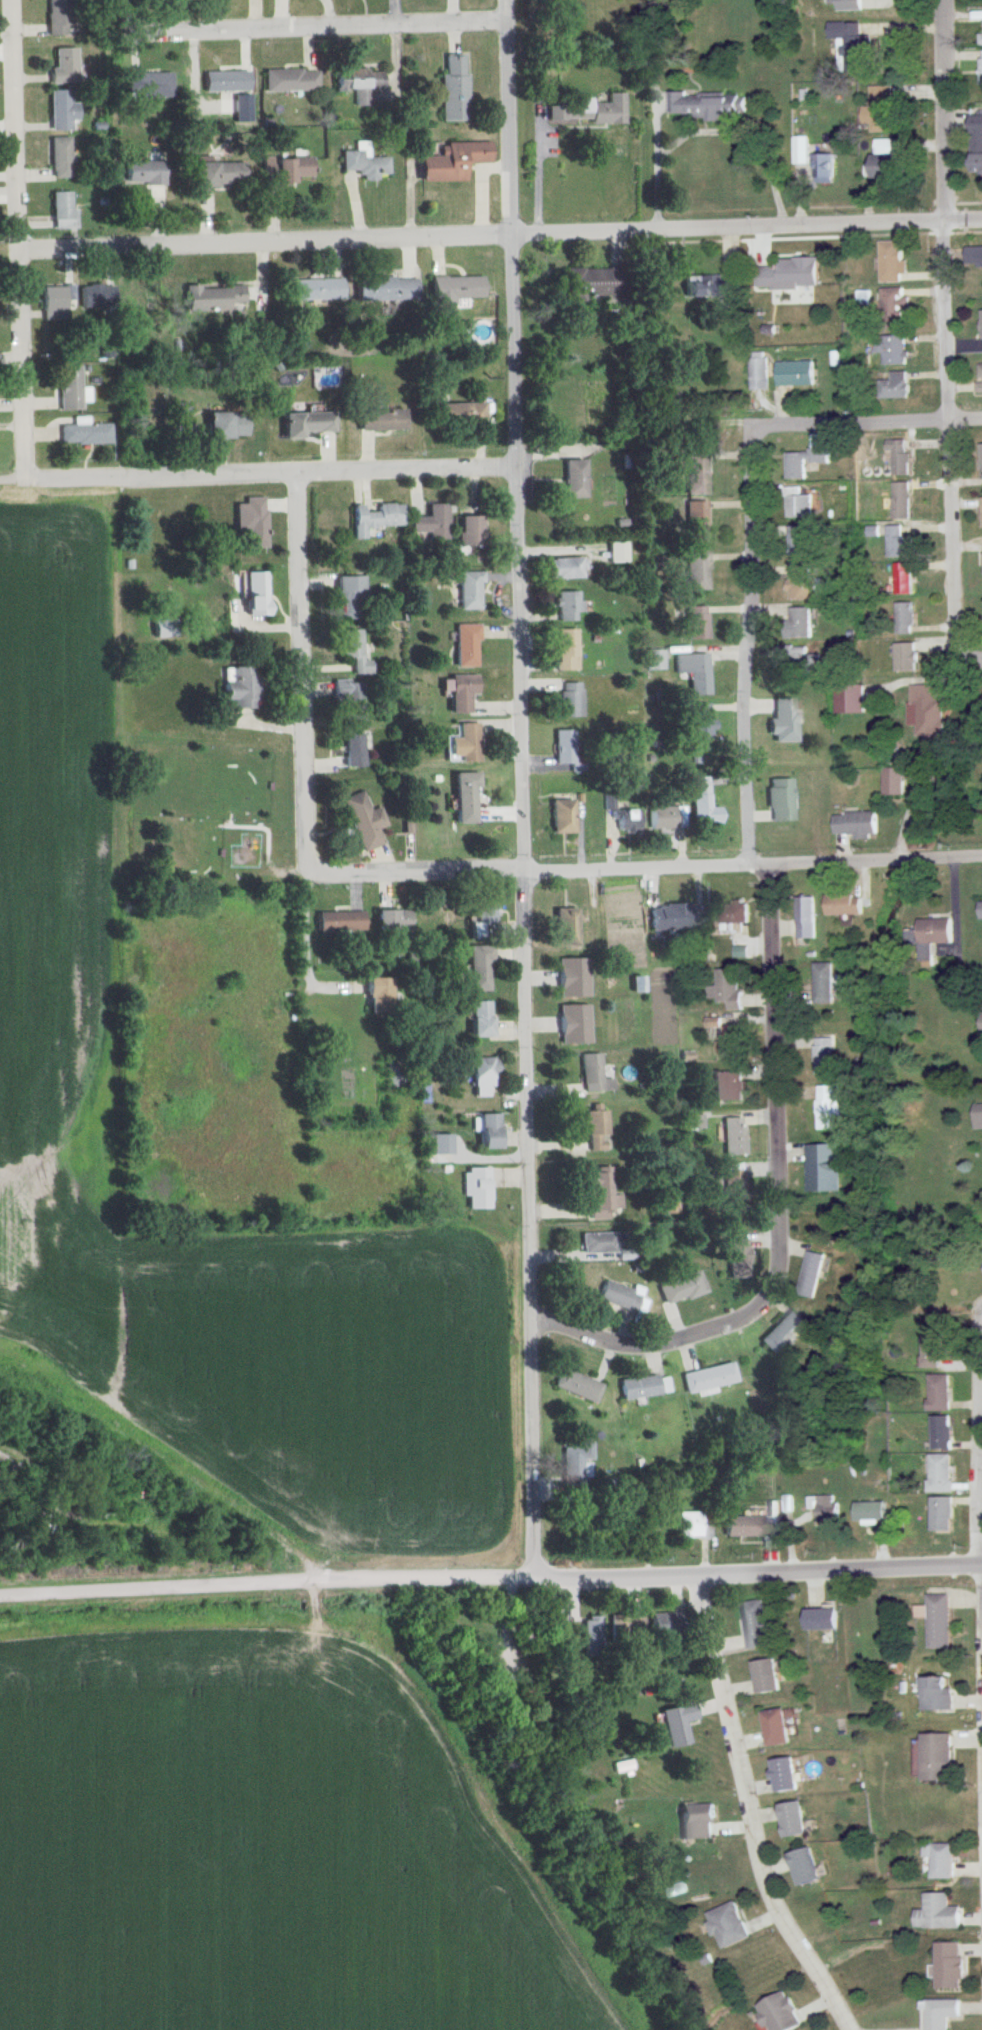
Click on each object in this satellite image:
building: (845, 5)
building: (57, 17)
road: (308, 28)
building: (980, 40)
building: (849, 42)
building: (65, 66)
building: (980, 69)
building: (225, 81)
building: (291, 81)
building: (360, 83)
building: (151, 85)
building: (452, 88)
building: (707, 107)
building: (62, 110)
building: (585, 110)
building: (880, 110)
road: (512, 117)
building: (975, 144)
building: (800, 151)
building: (60, 157)
building: (880, 160)
building: (450, 161)
building: (362, 165)
road: (656, 165)
building: (822, 166)
building: (290, 170)
building: (144, 173)
building: (216, 174)
building: (64, 211)
road: (963, 218)
road: (729, 227)
road: (19, 239)
road: (267, 243)
building: (974, 257)
building: (890, 261)
building: (789, 274)
building: (586, 283)
building: (705, 287)
building: (387, 288)
building: (454, 288)
building: (314, 289)
building: (96, 297)
building: (210, 298)
building: (53, 303)
building: (892, 308)
building: (981, 325)
road: (944, 327)
building: (891, 349)
building: (759, 371)
building: (794, 374)
building: (979, 378)
building: (892, 385)
building: (71, 389)
building: (459, 415)
building: (378, 420)
building: (302, 424)
road: (867, 424)
building: (223, 426)
building: (85, 433)
building: (898, 457)
building: (980, 457)
building: (802, 462)
road: (259, 472)
building: (694, 472)
building: (572, 480)
building: (900, 500)
building: (796, 504)
building: (981, 513)
building: (374, 518)
building: (695, 522)
building: (251, 523)
building: (430, 523)
building: (469, 532)
building: (797, 541)
building: (896, 543)
building: (614, 552)
building: (561, 569)
building: (696, 570)
building: (901, 579)
building: (801, 582)
building: (467, 591)
building: (252, 594)
building: (349, 598)
building: (566, 605)
building: (903, 618)
building: (695, 622)
building: (798, 622)
building: (464, 645)
building: (564, 650)
building: (352, 651)
road: (971, 654)
building: (904, 657)
building: (653, 660)
building: (795, 660)
road: (301, 669)
building: (694, 672)
building: (237, 687)
building: (458, 693)
building: (569, 700)
building: (849, 700)
building: (347, 702)
building: (923, 710)
building: (781, 720)
building: (698, 722)
building: (466, 743)
building: (563, 747)
building: (351, 751)
park: (967, 754)
building: (893, 782)
building: (462, 798)
building: (779, 801)
building: (702, 808)
building: (560, 817)
building: (666, 817)
building: (629, 820)
building: (363, 821)
building: (854, 824)
road: (753, 856)
road: (645, 865)
road: (524, 903)
building: (841, 905)
building: (480, 909)
building: (979, 909)
building: (733, 912)
building: (668, 917)
building: (390, 920)
building: (803, 920)
building: (338, 921)
building: (561, 927)
building: (931, 936)
road: (304, 947)
building: (477, 966)
building: (570, 977)
building: (822, 984)
building: (726, 988)
building: (376, 992)
building: (475, 1018)
building: (980, 1019)
building: (571, 1024)
building: (728, 1041)
building: (824, 1056)
building: (591, 1075)
crop: (63, 1081)
building: (727, 1086)
building: (833, 1108)
building: (977, 1115)
building: (593, 1129)
building: (485, 1131)
building: (733, 1136)
building: (830, 1162)
building: (734, 1181)
building: (475, 1188)
building: (598, 1194)
building: (599, 1244)
building: (737, 1252)
building: (811, 1275)
building: (682, 1288)
building: (618, 1296)
building: (781, 1331)
road: (654, 1344)
building: (707, 1378)
building: (577, 1386)
building: (638, 1387)
building: (937, 1393)
building: (940, 1433)
building: (6, 1463)
building: (571, 1469)
building: (939, 1473)
building: (824, 1509)
building: (869, 1512)
building: (941, 1514)
building: (750, 1524)
building: (688, 1525)
road: (757, 1567)
road: (419, 1576)
road: (153, 1586)
building: (819, 1619)
building: (937, 1620)
building: (624, 1625)
building: (753, 1625)
building: (664, 1627)
building: (590, 1635)
building: (763, 1677)
building: (935, 1694)
building: (675, 1724)
building: (773, 1728)
building: (935, 1758)
building: (622, 1767)
building: (782, 1775)
road: (748, 1808)
building: (790, 1819)
building: (696, 1822)
crop: (256, 1848)
building: (940, 1862)
building: (802, 1866)
building: (675, 1889)
building: (936, 1913)
building: (725, 1925)
building: (948, 1965)
building: (776, 2013)
building: (939, 2013)

